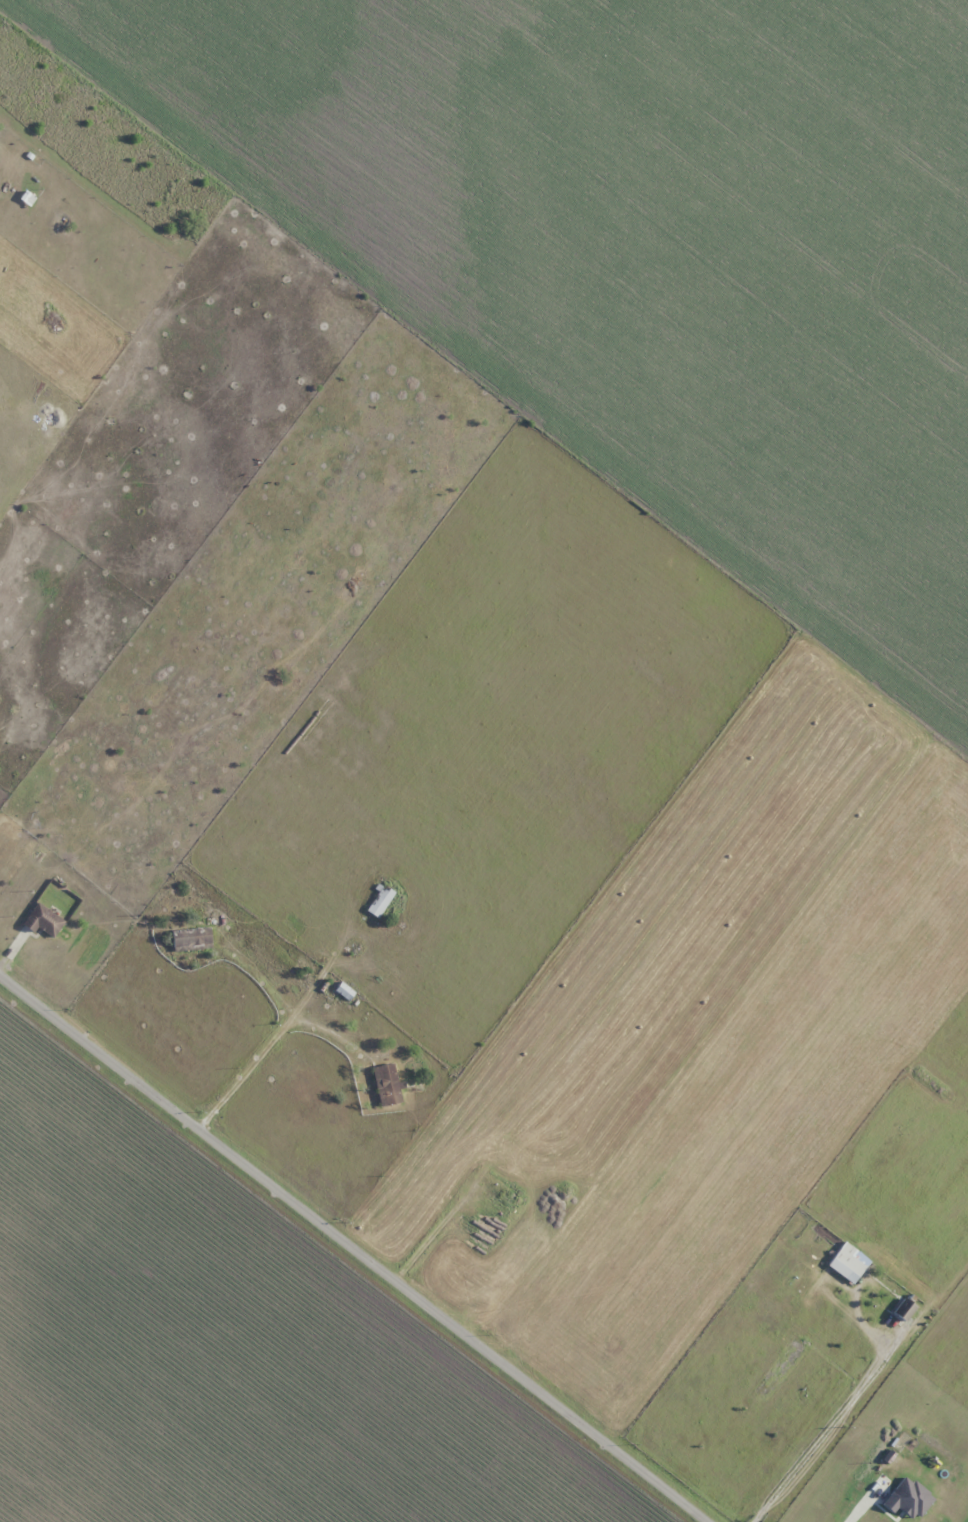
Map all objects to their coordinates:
building: (379, 901)
building: (43, 920)
building: (191, 938)
building: (344, 991)
building: (387, 1084)
road: (346, 1256)
building: (848, 1263)
building: (903, 1310)

